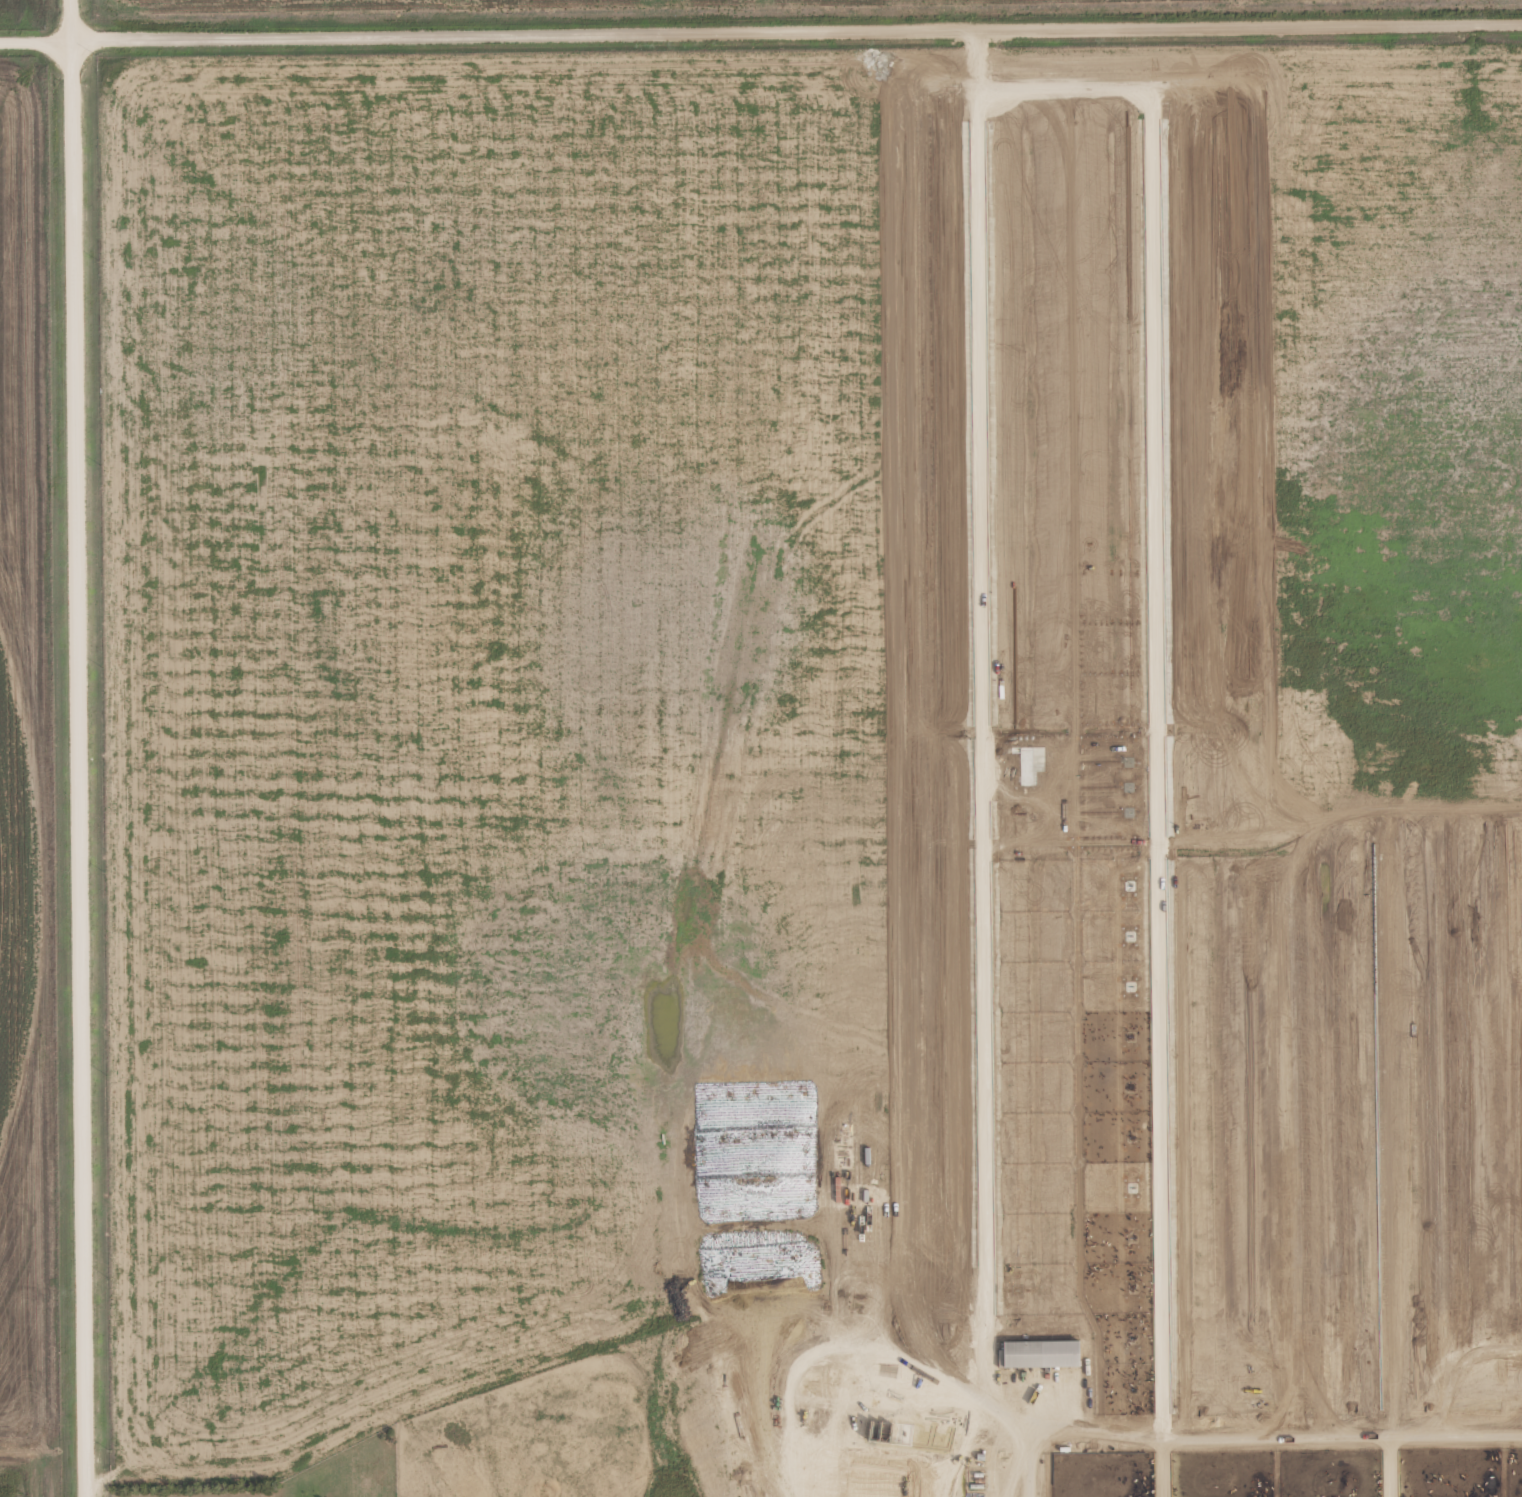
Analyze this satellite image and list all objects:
road: (760, 34)
road: (76, 748)
building: (1040, 1354)
crop: (1106, 1401)
road: (1335, 1431)
road: (1059, 1432)
road: (1359, 1464)
road: (1150, 1466)

